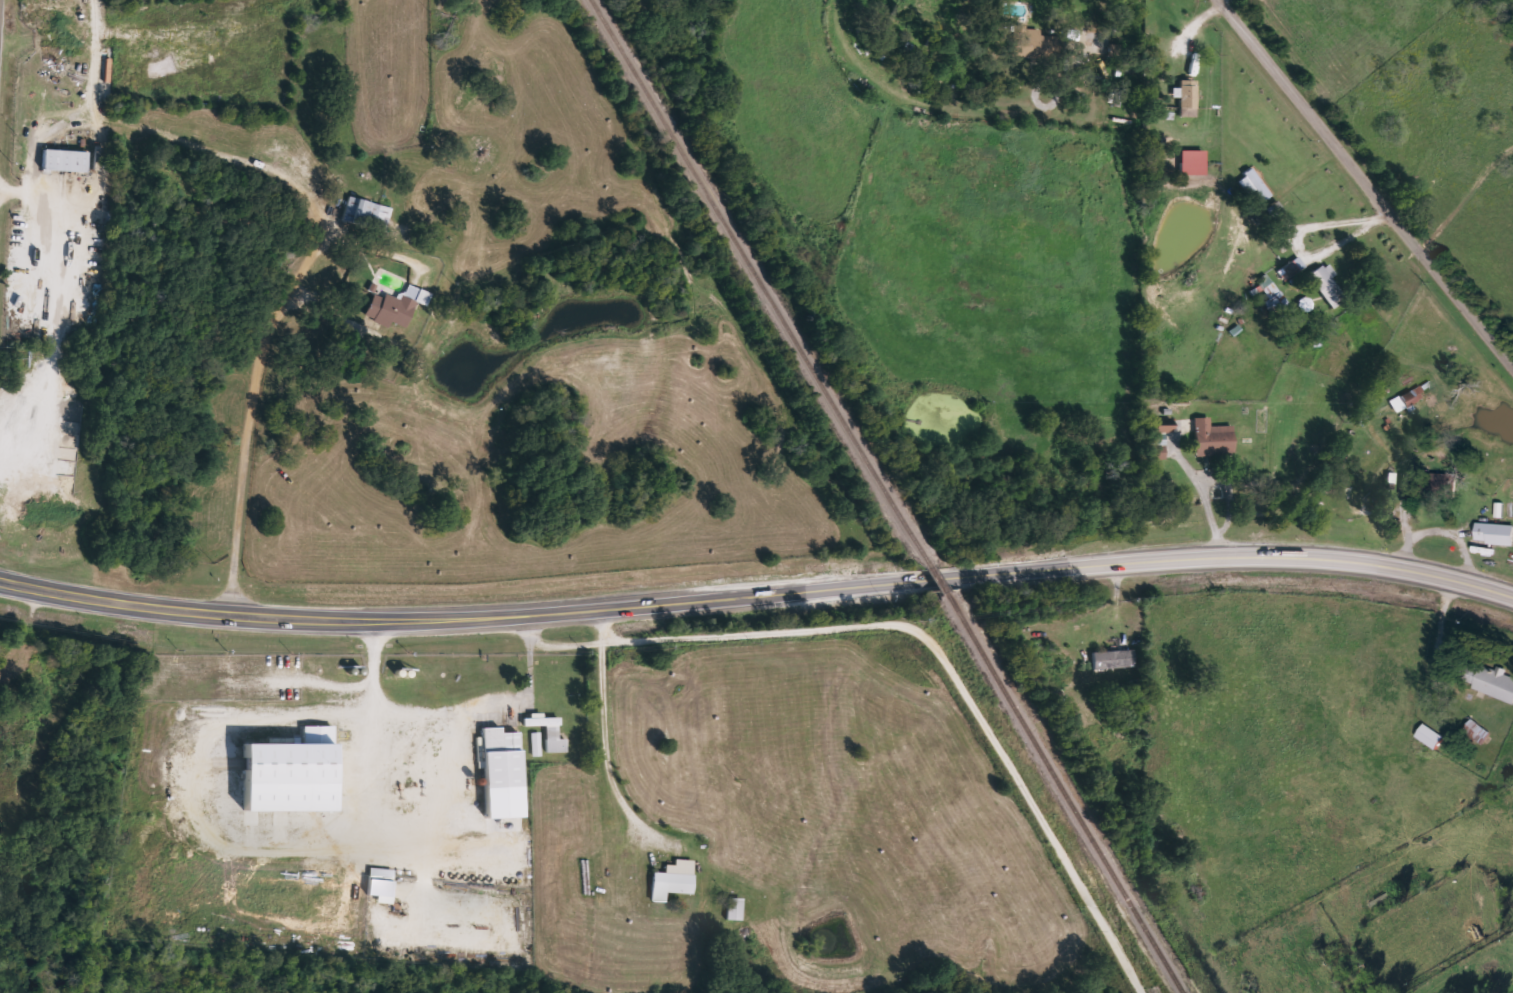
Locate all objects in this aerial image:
building: (1034, 43)
building: (1188, 98)
building: (66, 162)
building: (1194, 163)
road: (1369, 180)
building: (1254, 185)
building: (368, 214)
building: (1290, 271)
railway: (761, 283)
building: (1329, 286)
building: (1272, 297)
building: (397, 307)
building: (1408, 399)
building: (1165, 428)
building: (1214, 438)
road: (249, 443)
building: (1158, 447)
building: (1429, 486)
building: (1496, 534)
railway: (939, 579)
road: (757, 601)
building: (1114, 660)
building: (1492, 681)
road: (860, 703)
building: (1480, 732)
building: (1433, 737)
building: (537, 745)
building: (503, 759)
building: (292, 773)
railway: (1064, 793)
building: (674, 881)
building: (382, 885)
building: (736, 910)

